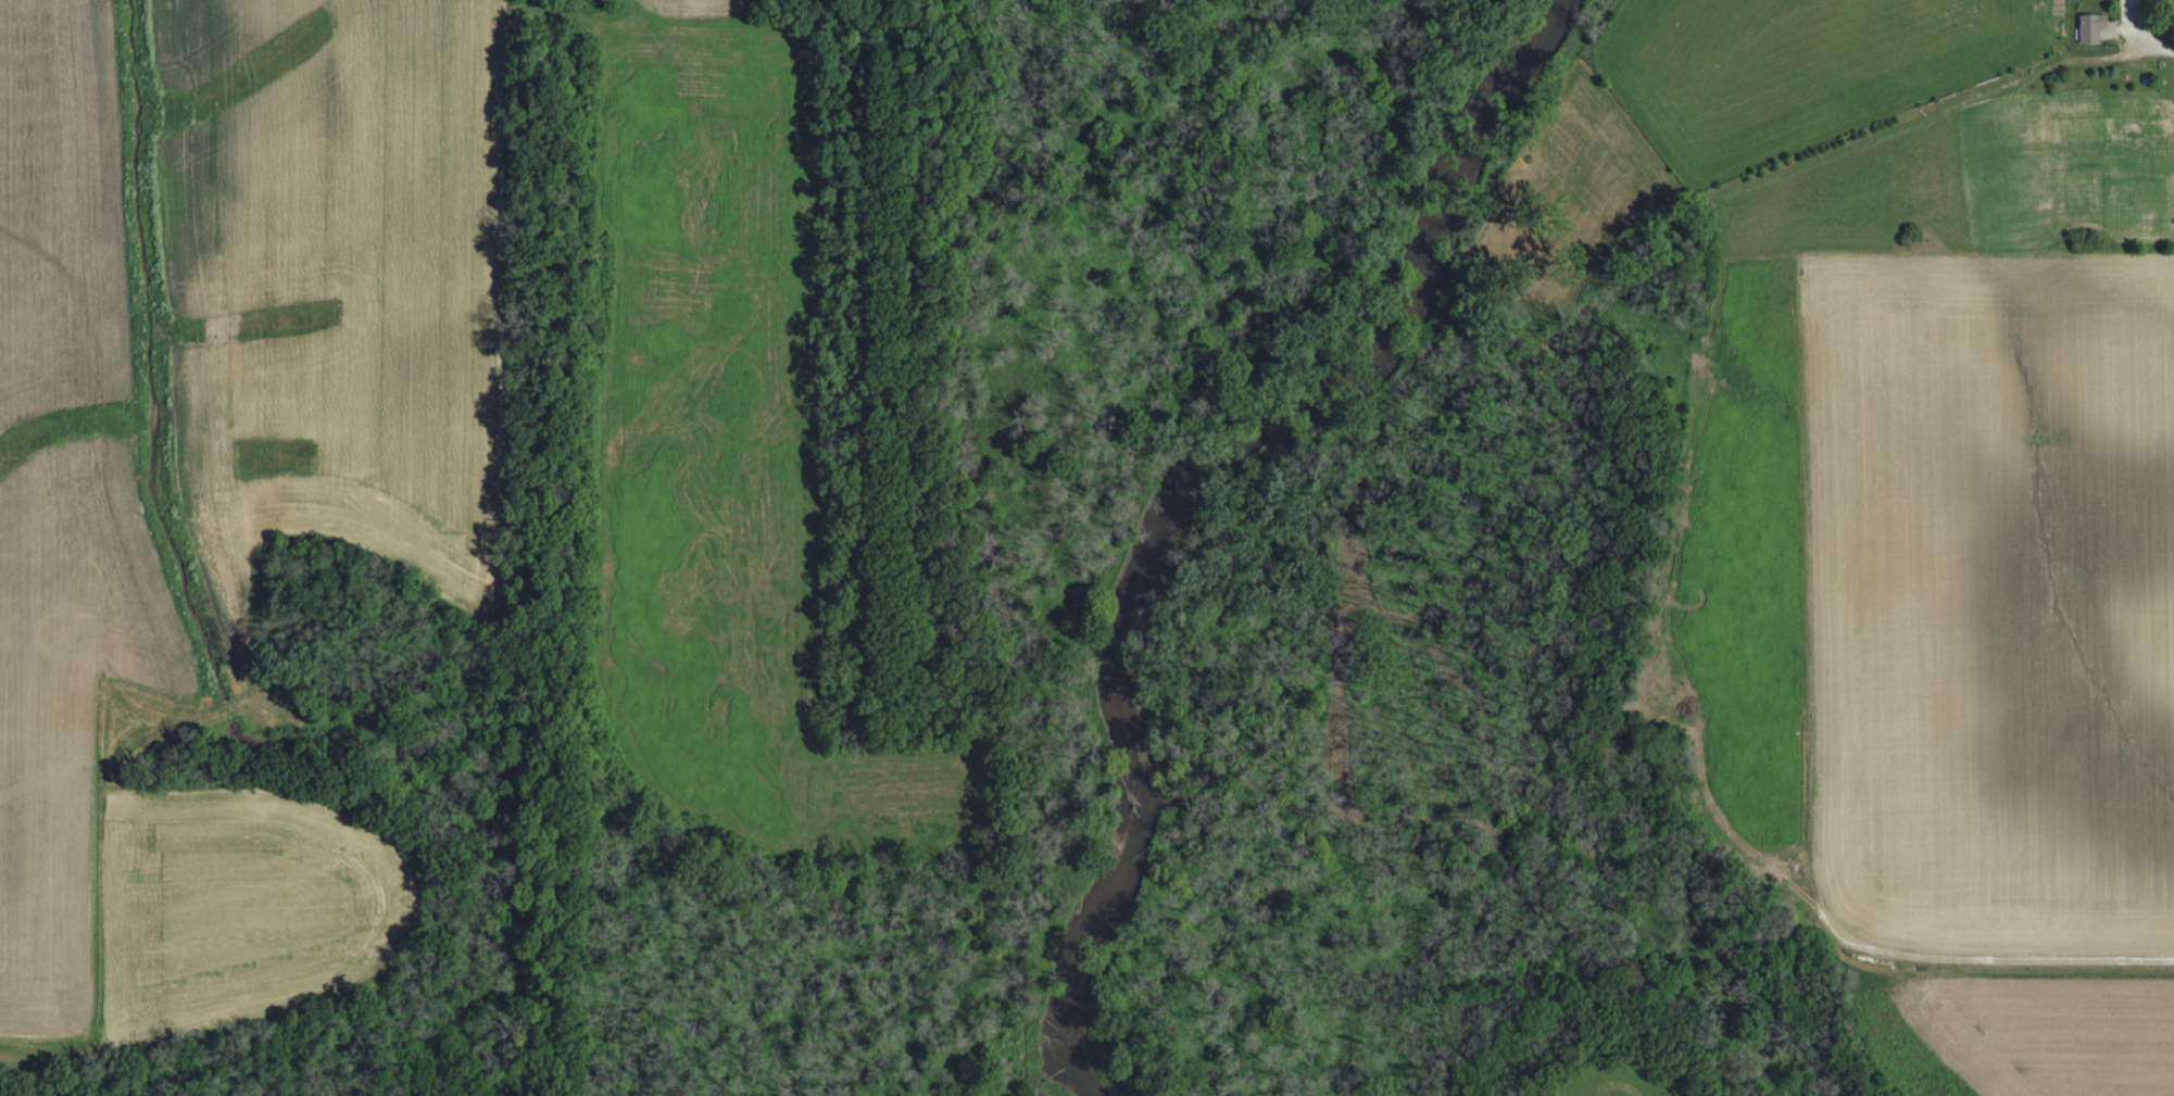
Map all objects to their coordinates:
building: (2090, 29)
road: (2149, 34)

